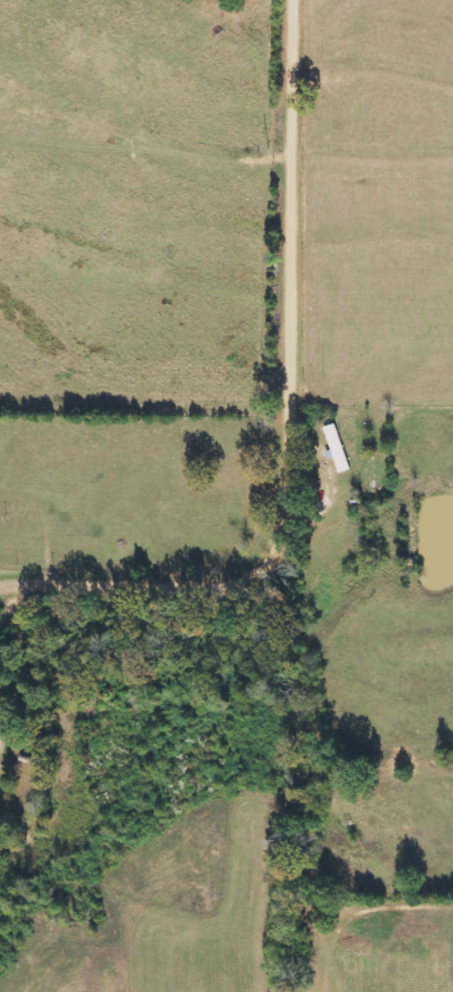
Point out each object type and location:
road: (295, 425)
building: (337, 448)
road: (11, 586)

